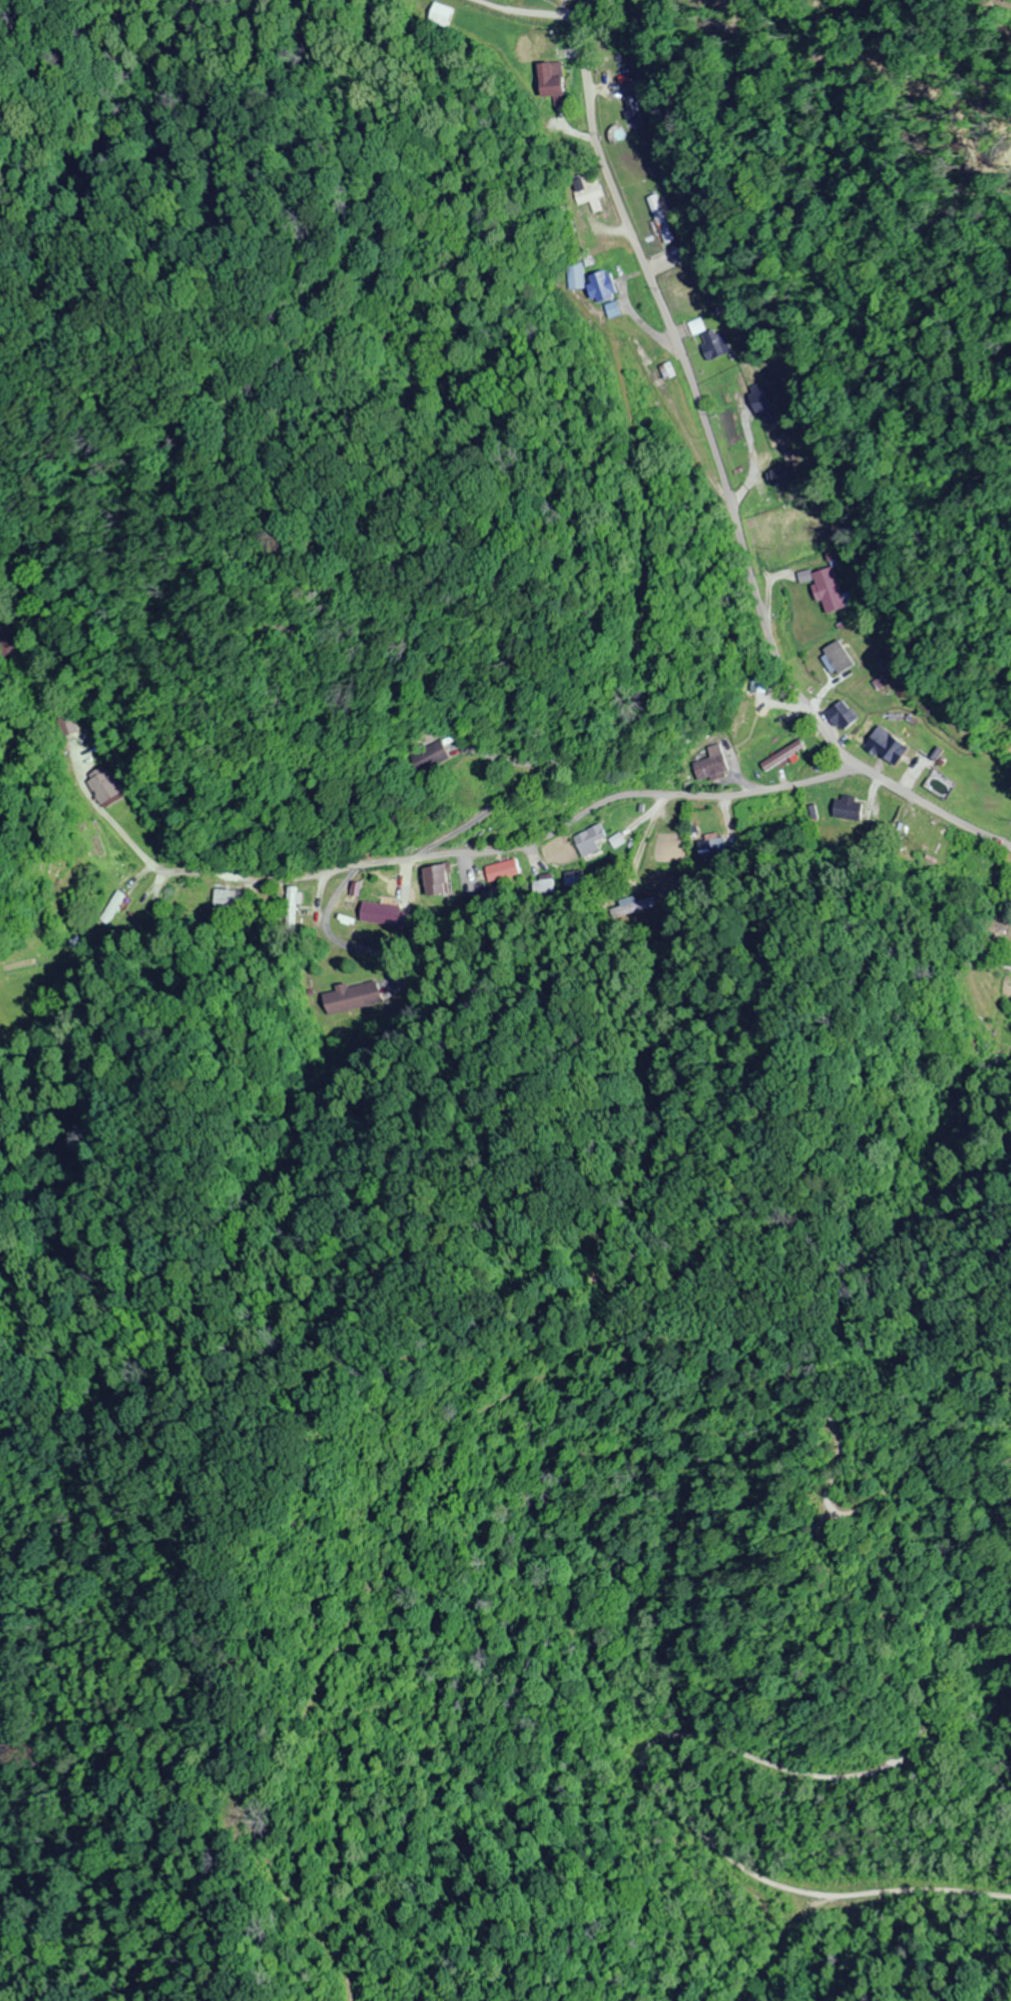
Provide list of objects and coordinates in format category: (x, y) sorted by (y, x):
road: (498, 8)
building: (439, 17)
building: (589, 199)
building: (658, 220)
building: (605, 287)
road: (716, 463)
building: (814, 530)
building: (829, 592)
building: (844, 715)
building: (889, 747)
building: (783, 756)
building: (713, 764)
building: (594, 841)
road: (506, 846)
building: (708, 846)
building: (673, 855)
building: (503, 871)
building: (439, 881)
building: (540, 888)
building: (223, 898)
building: (293, 909)
road: (689, 1093)

